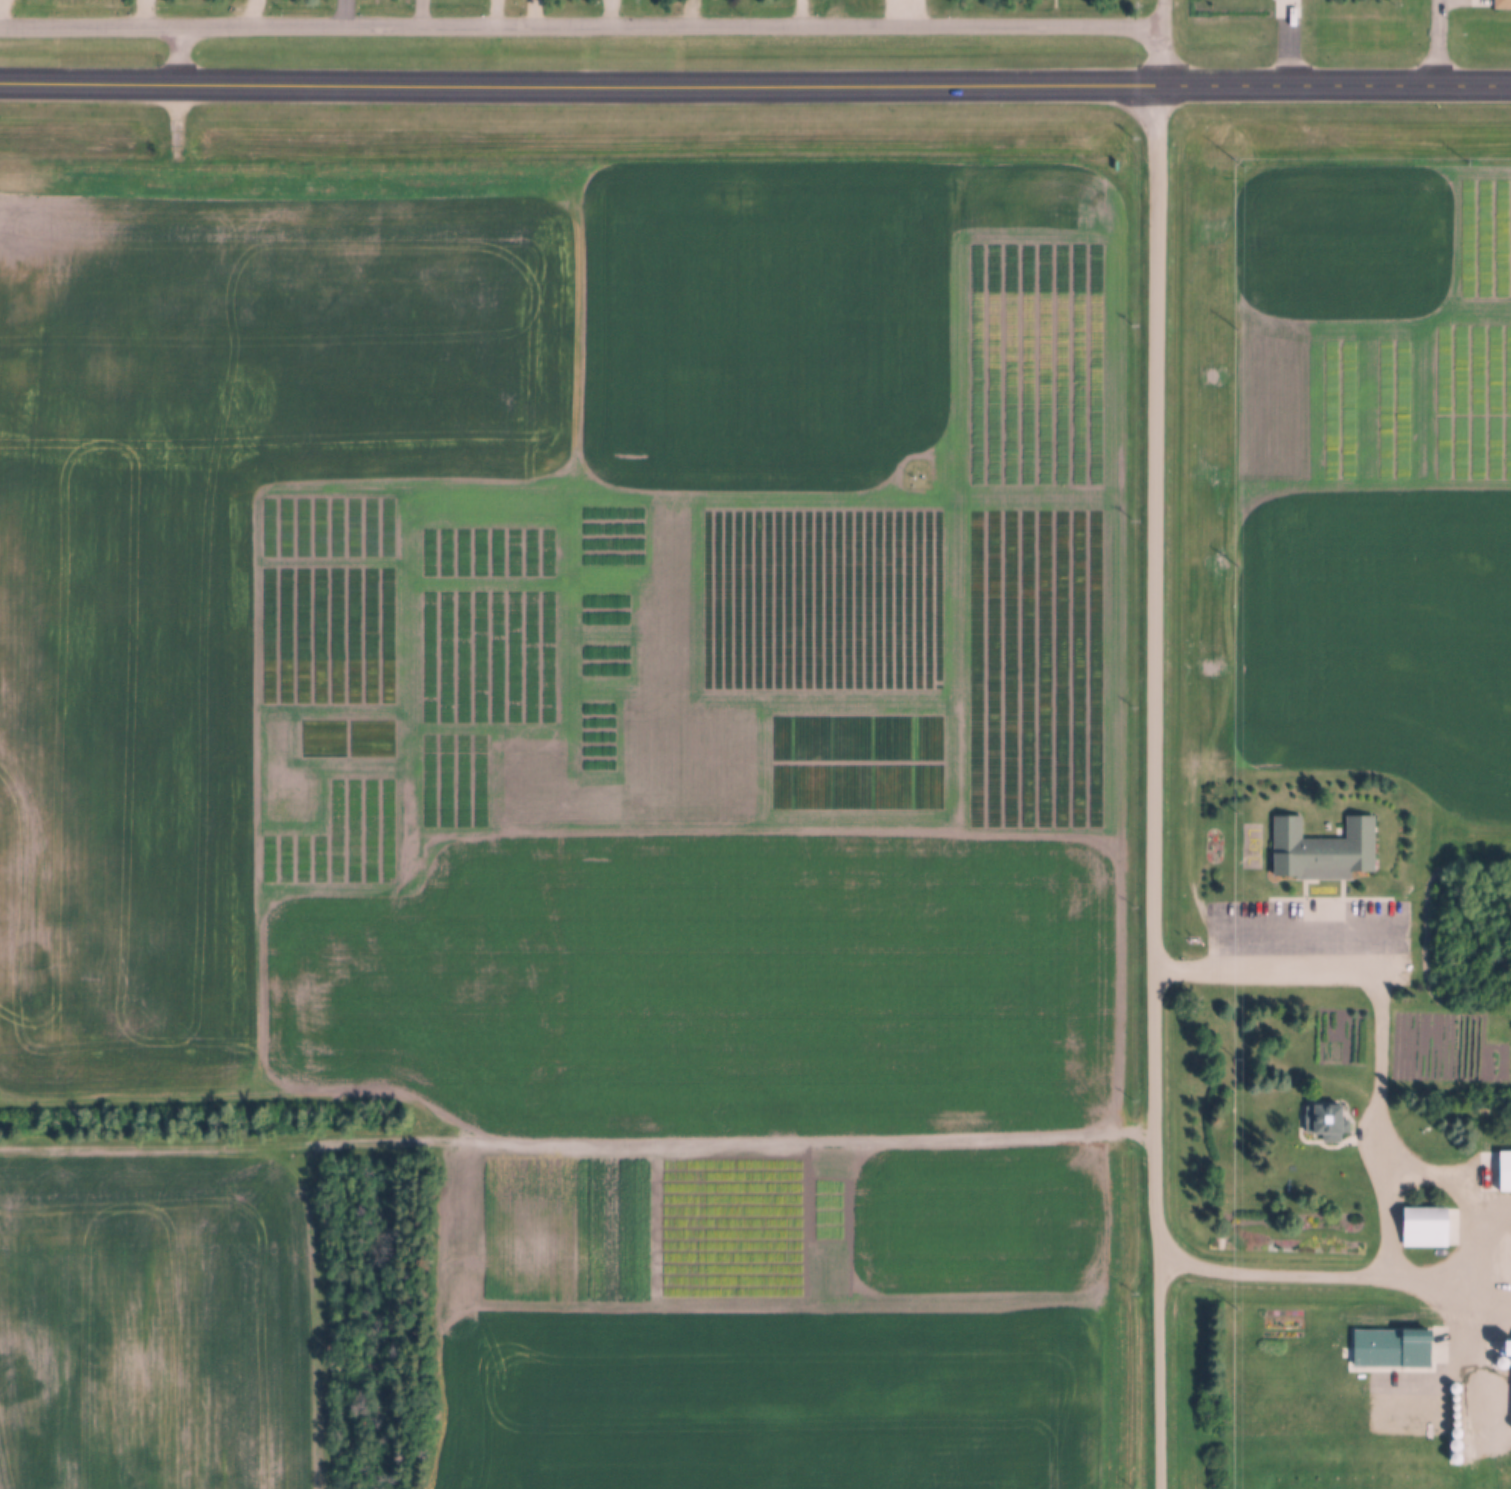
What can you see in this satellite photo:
building: (1503, 4)
road: (835, 14)
road: (952, 14)
road: (580, 28)
road: (1160, 43)
road: (1439, 43)
road: (177, 55)
road: (719, 83)
road: (1474, 87)
road: (176, 126)
road: (1159, 787)
building: (1326, 850)
building: (1328, 1121)
road: (568, 1140)
road: (219, 1145)
road: (1405, 1169)
building: (1506, 1171)
building: (1426, 1227)
road: (1335, 1275)
road: (322, 1313)
building: (1495, 1359)
silo: (1495, 1359)
building: (1505, 1363)
silo: (1505, 1363)
building: (1458, 1388)
silo: (1458, 1388)
building: (1458, 1398)
silo: (1458, 1398)
building: (1459, 1407)
silo: (1459, 1407)
building: (1459, 1415)
silo: (1459, 1415)
building: (1459, 1424)
silo: (1459, 1424)
building: (1459, 1434)
silo: (1459, 1434)
road: (1221, 1440)
building: (1459, 1446)
silo: (1459, 1446)
road: (1484, 1473)

